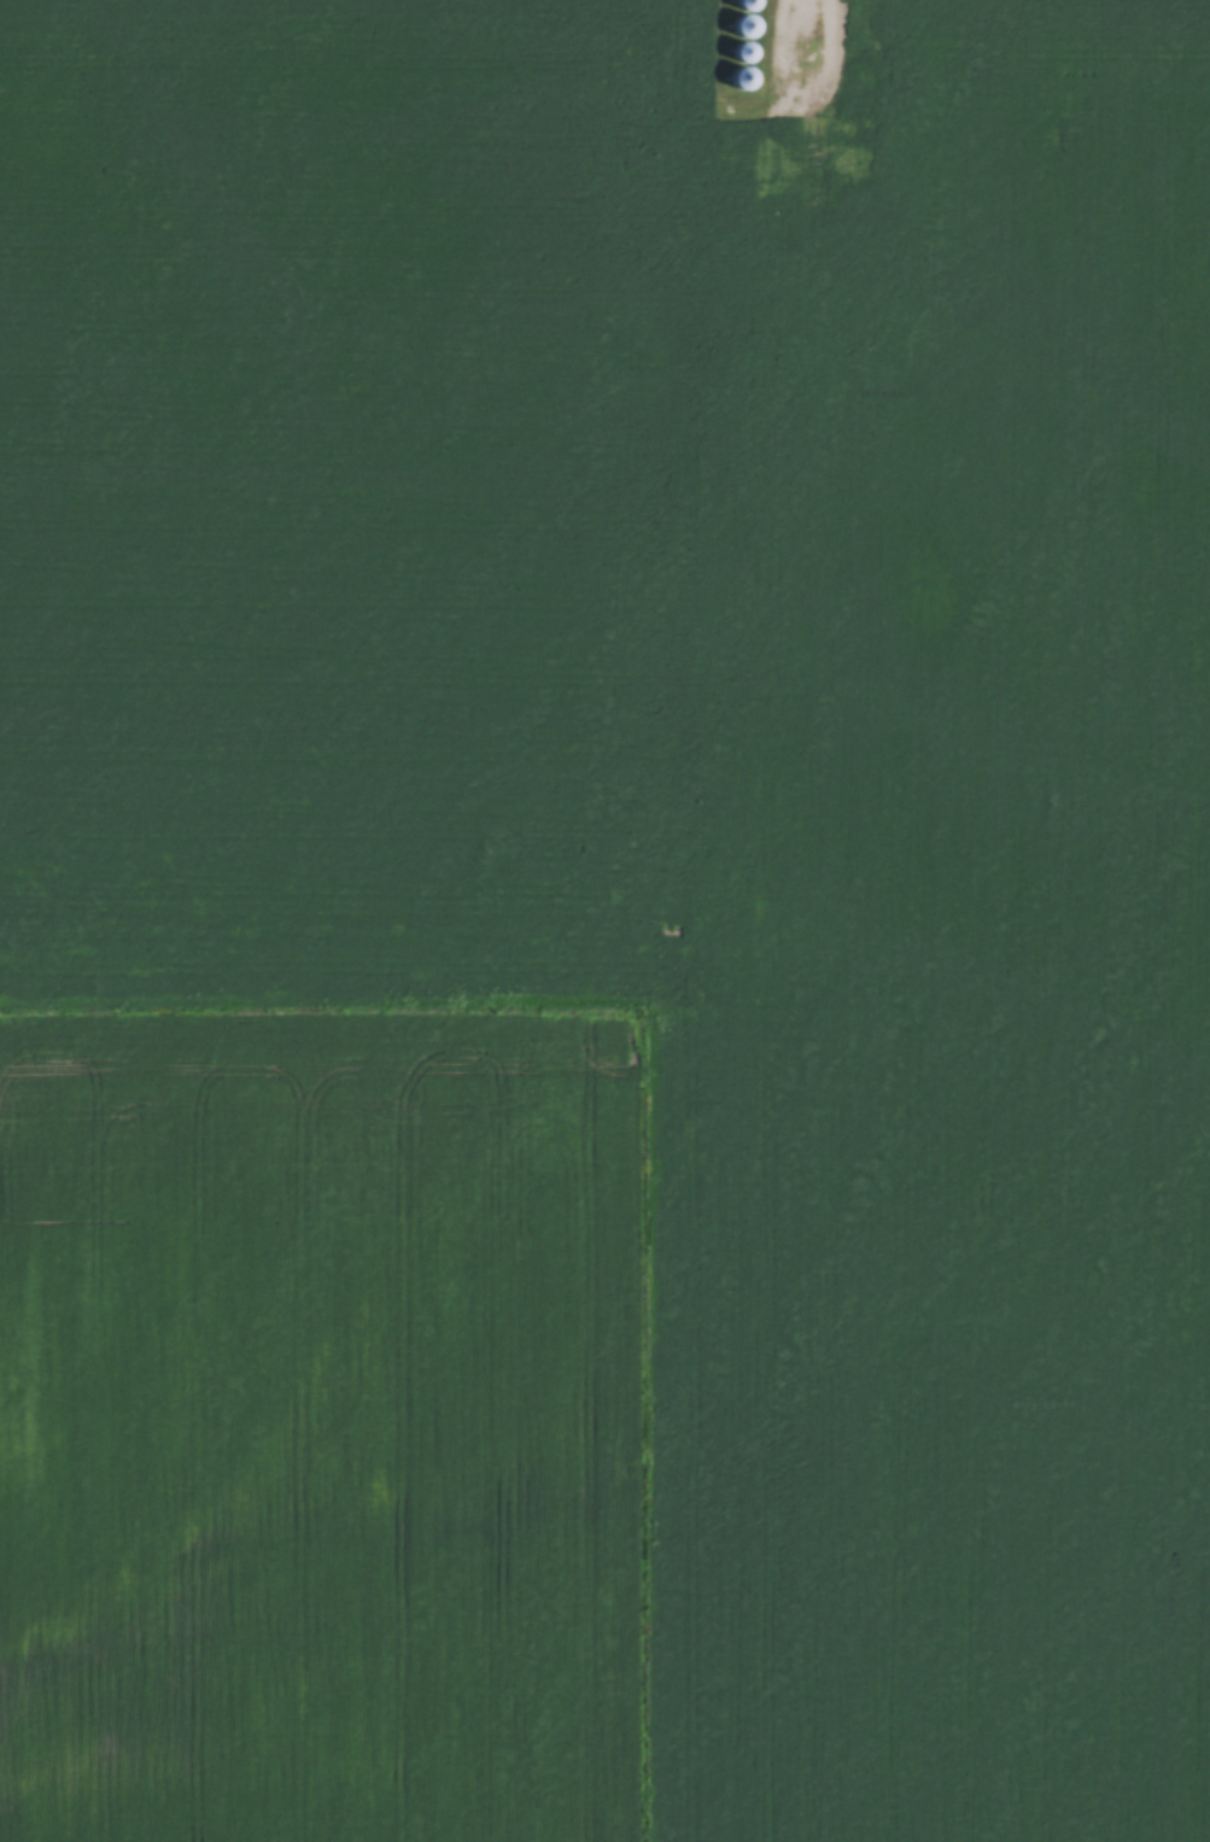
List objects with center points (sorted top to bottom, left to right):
building: (747, 6)
building: (744, 30)
building: (744, 55)
building: (742, 82)

